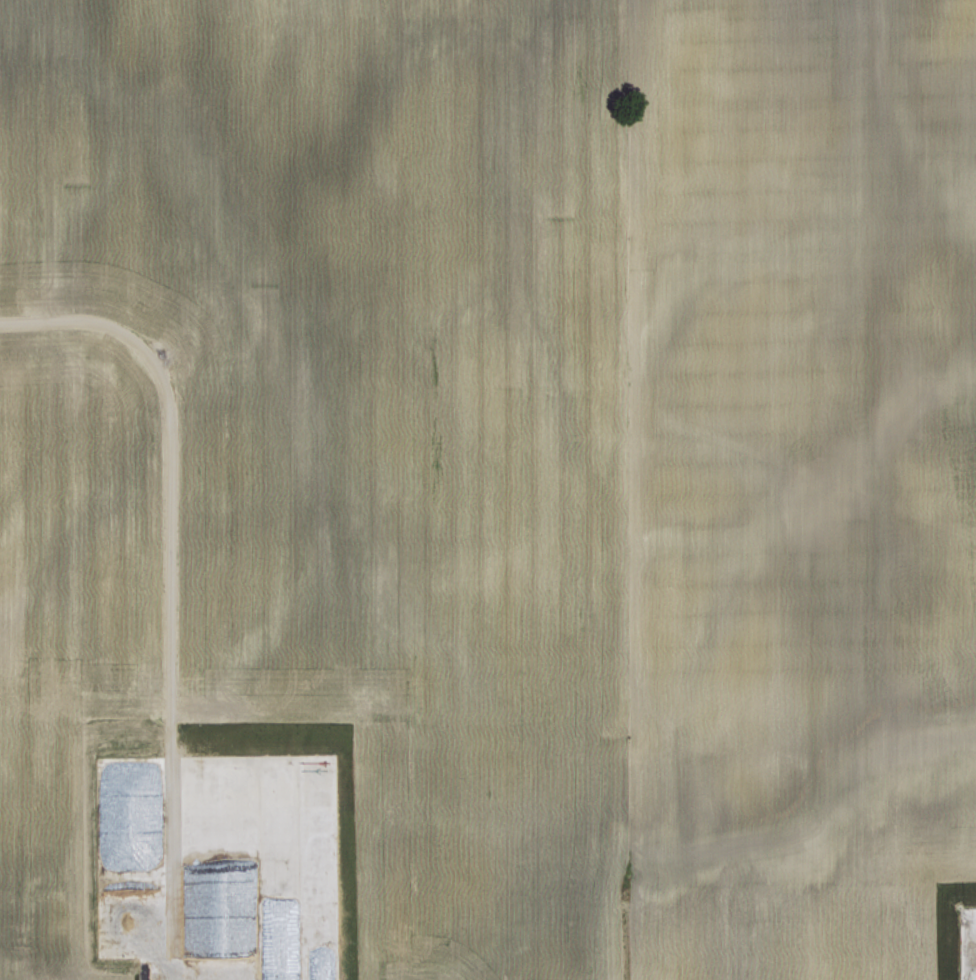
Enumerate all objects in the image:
road: (170, 584)

